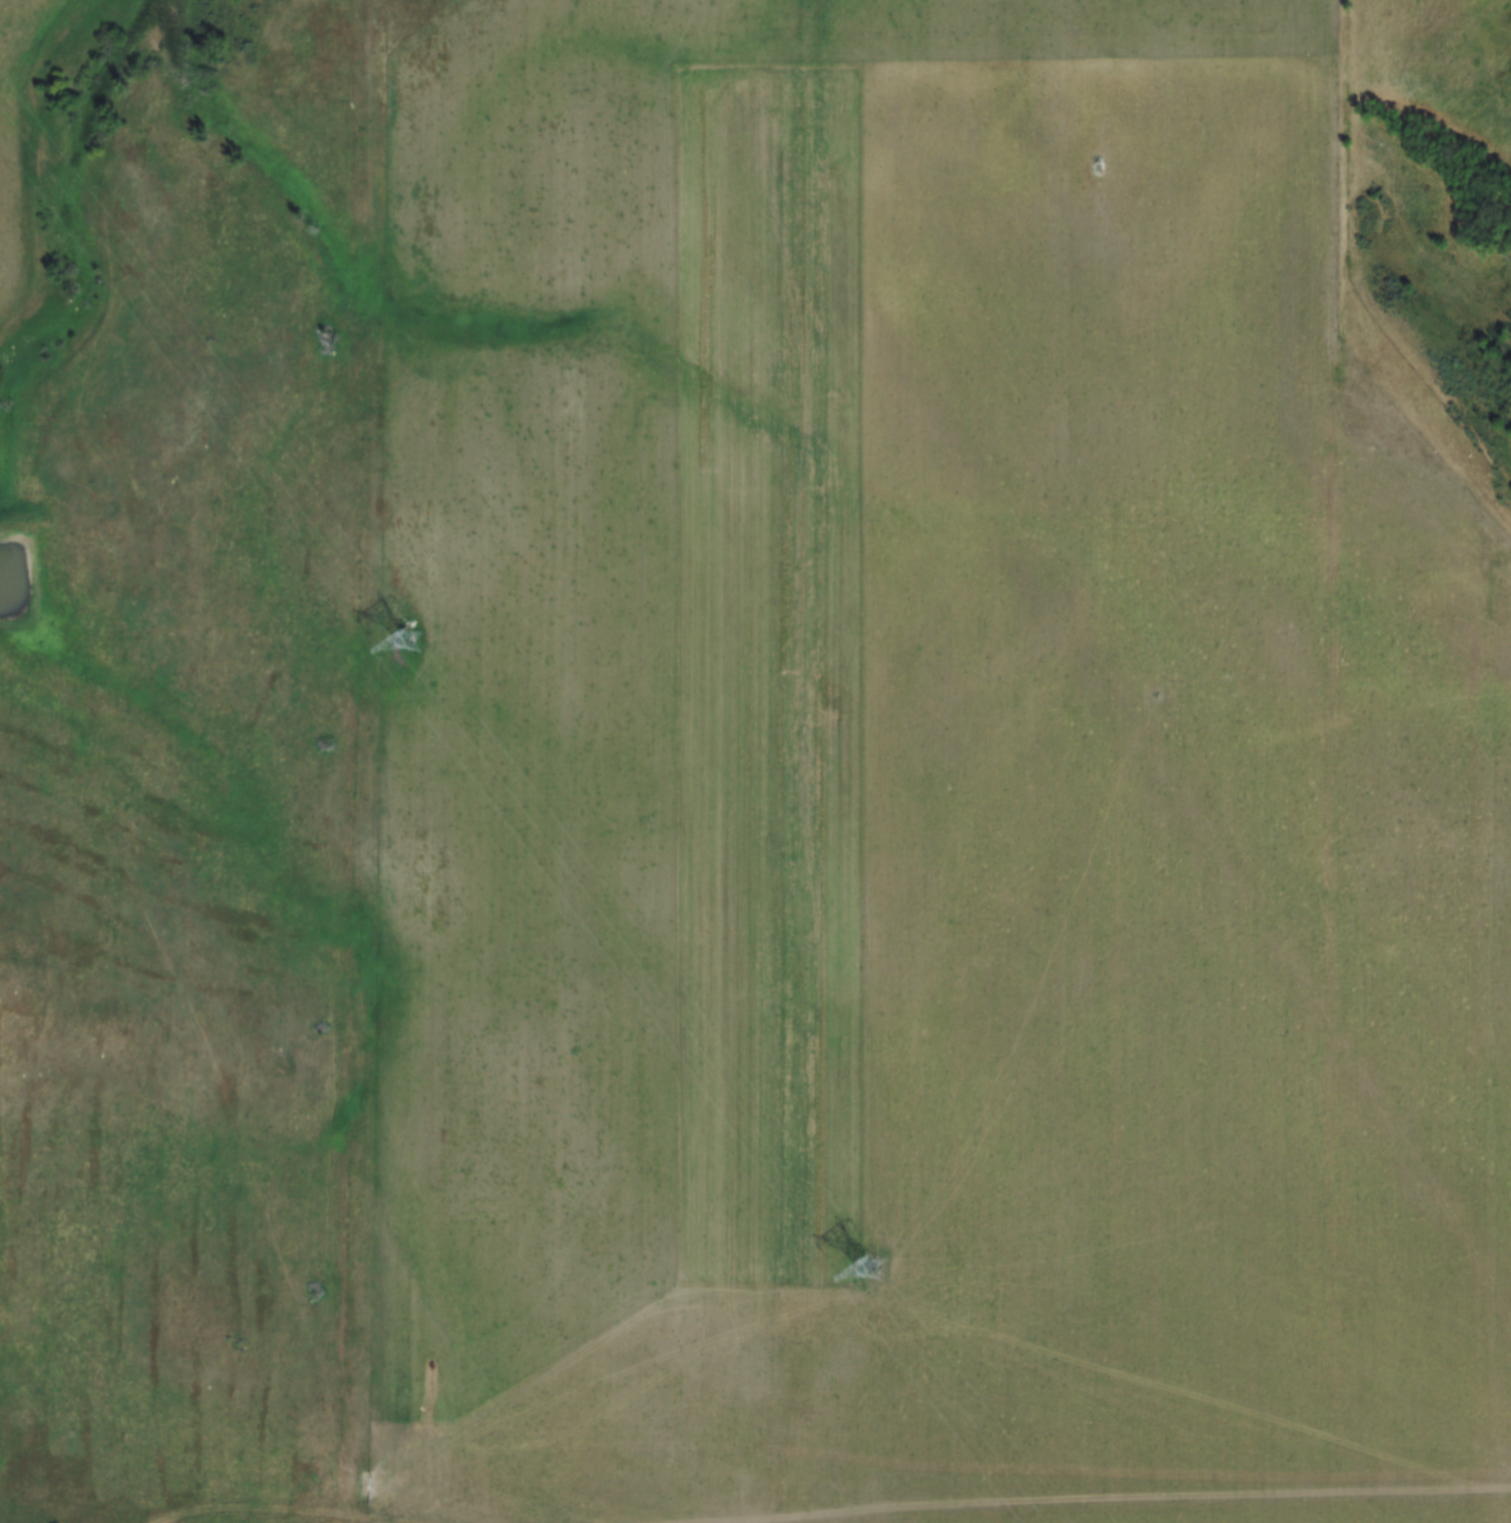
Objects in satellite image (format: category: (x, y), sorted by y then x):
power tower: (417, 645)
power tower: (879, 1273)

